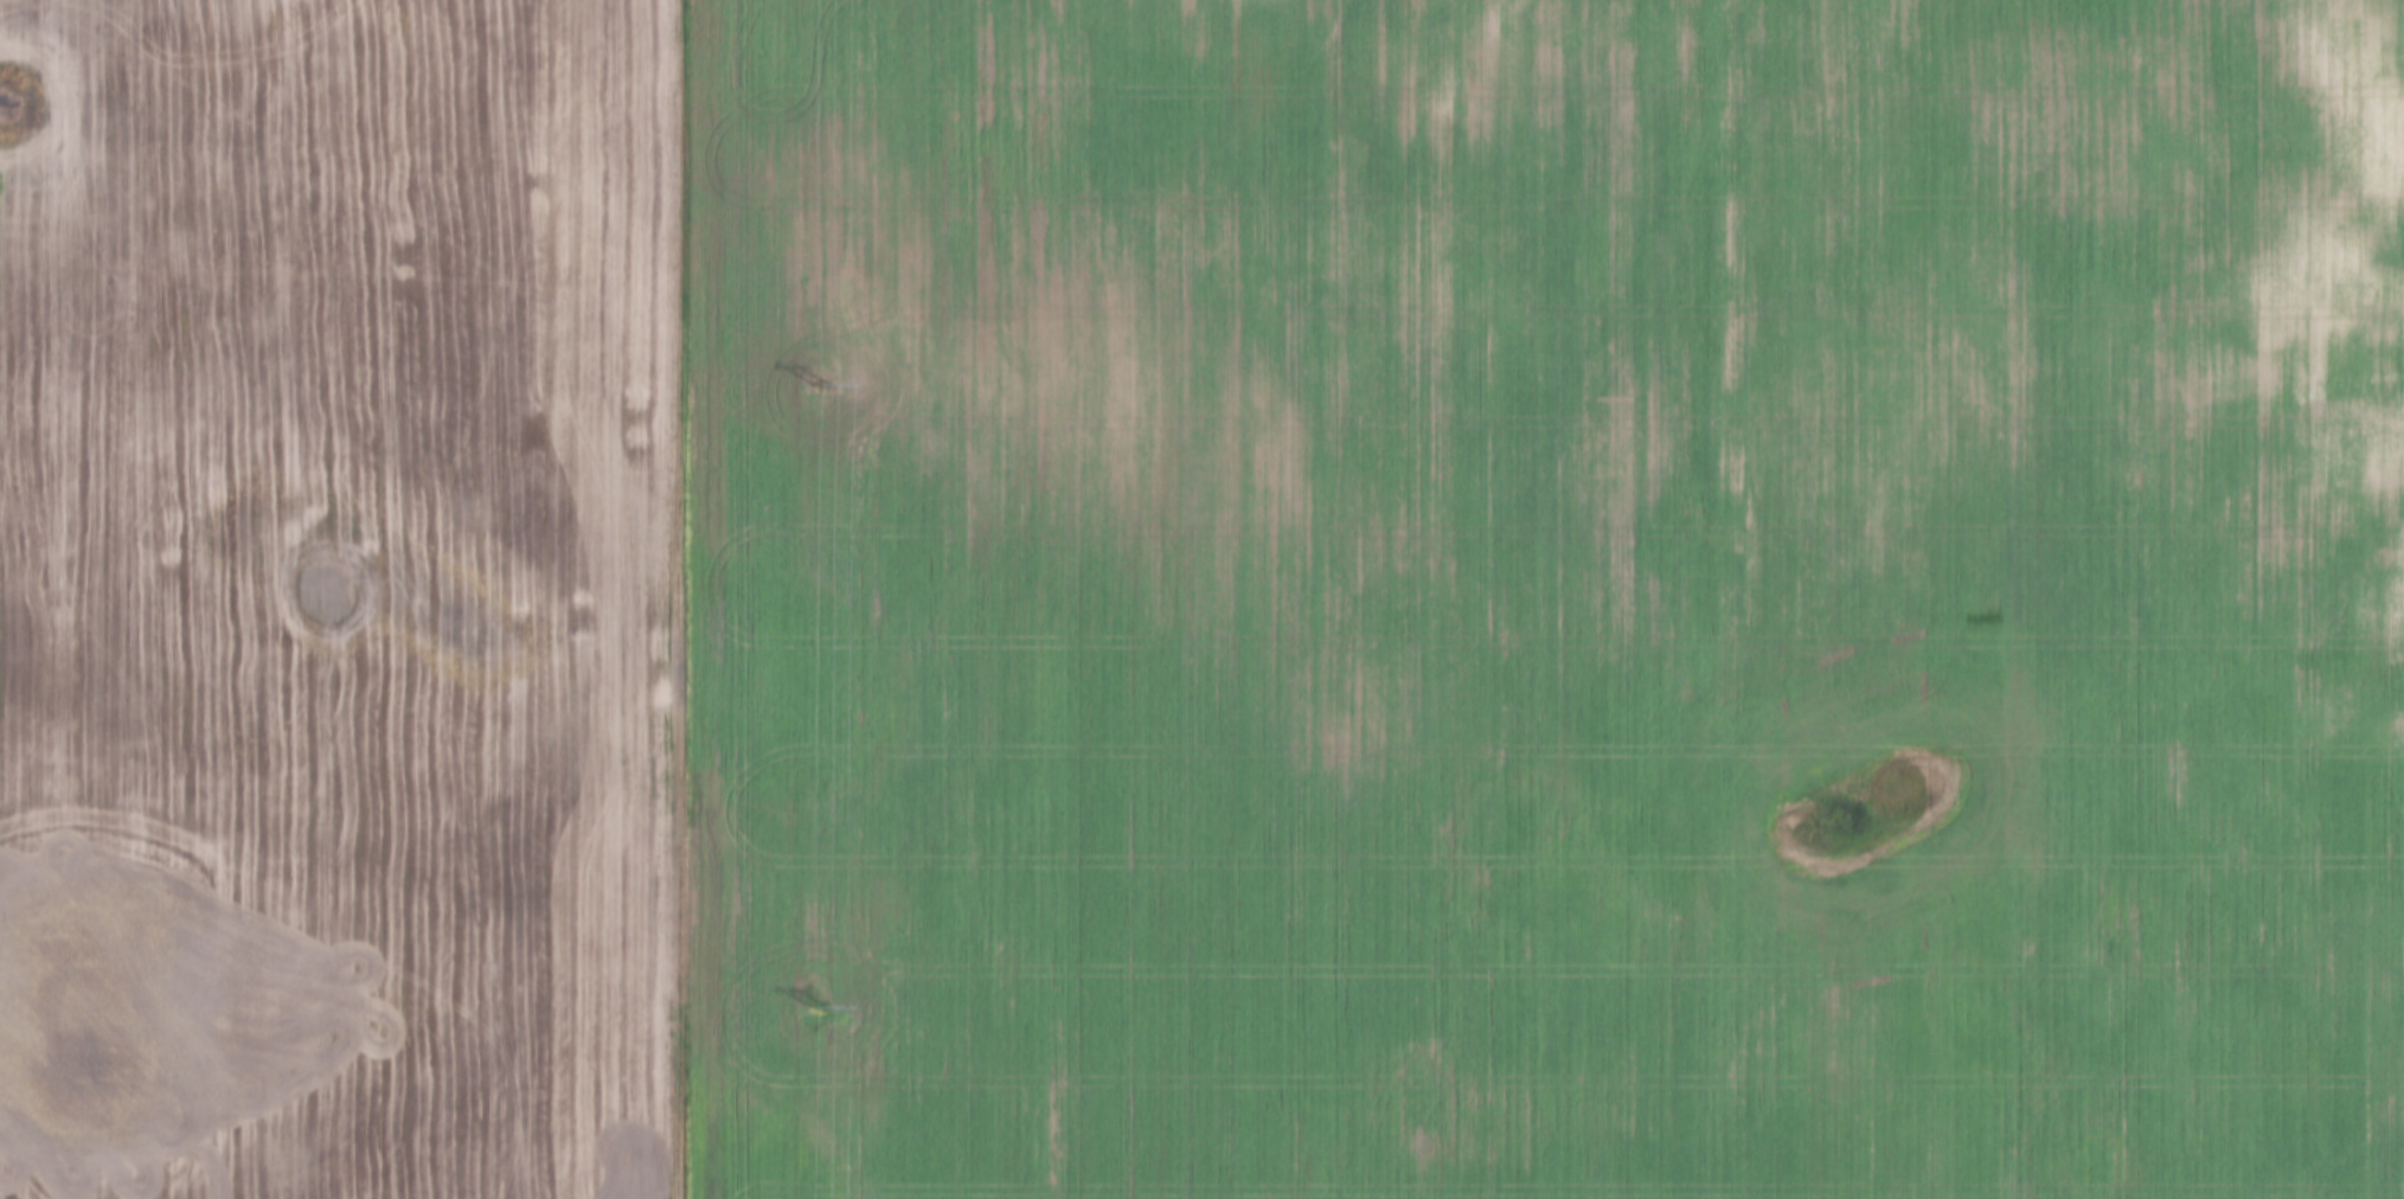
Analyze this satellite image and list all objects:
power tower: (820, 385)
power tower: (818, 1009)

